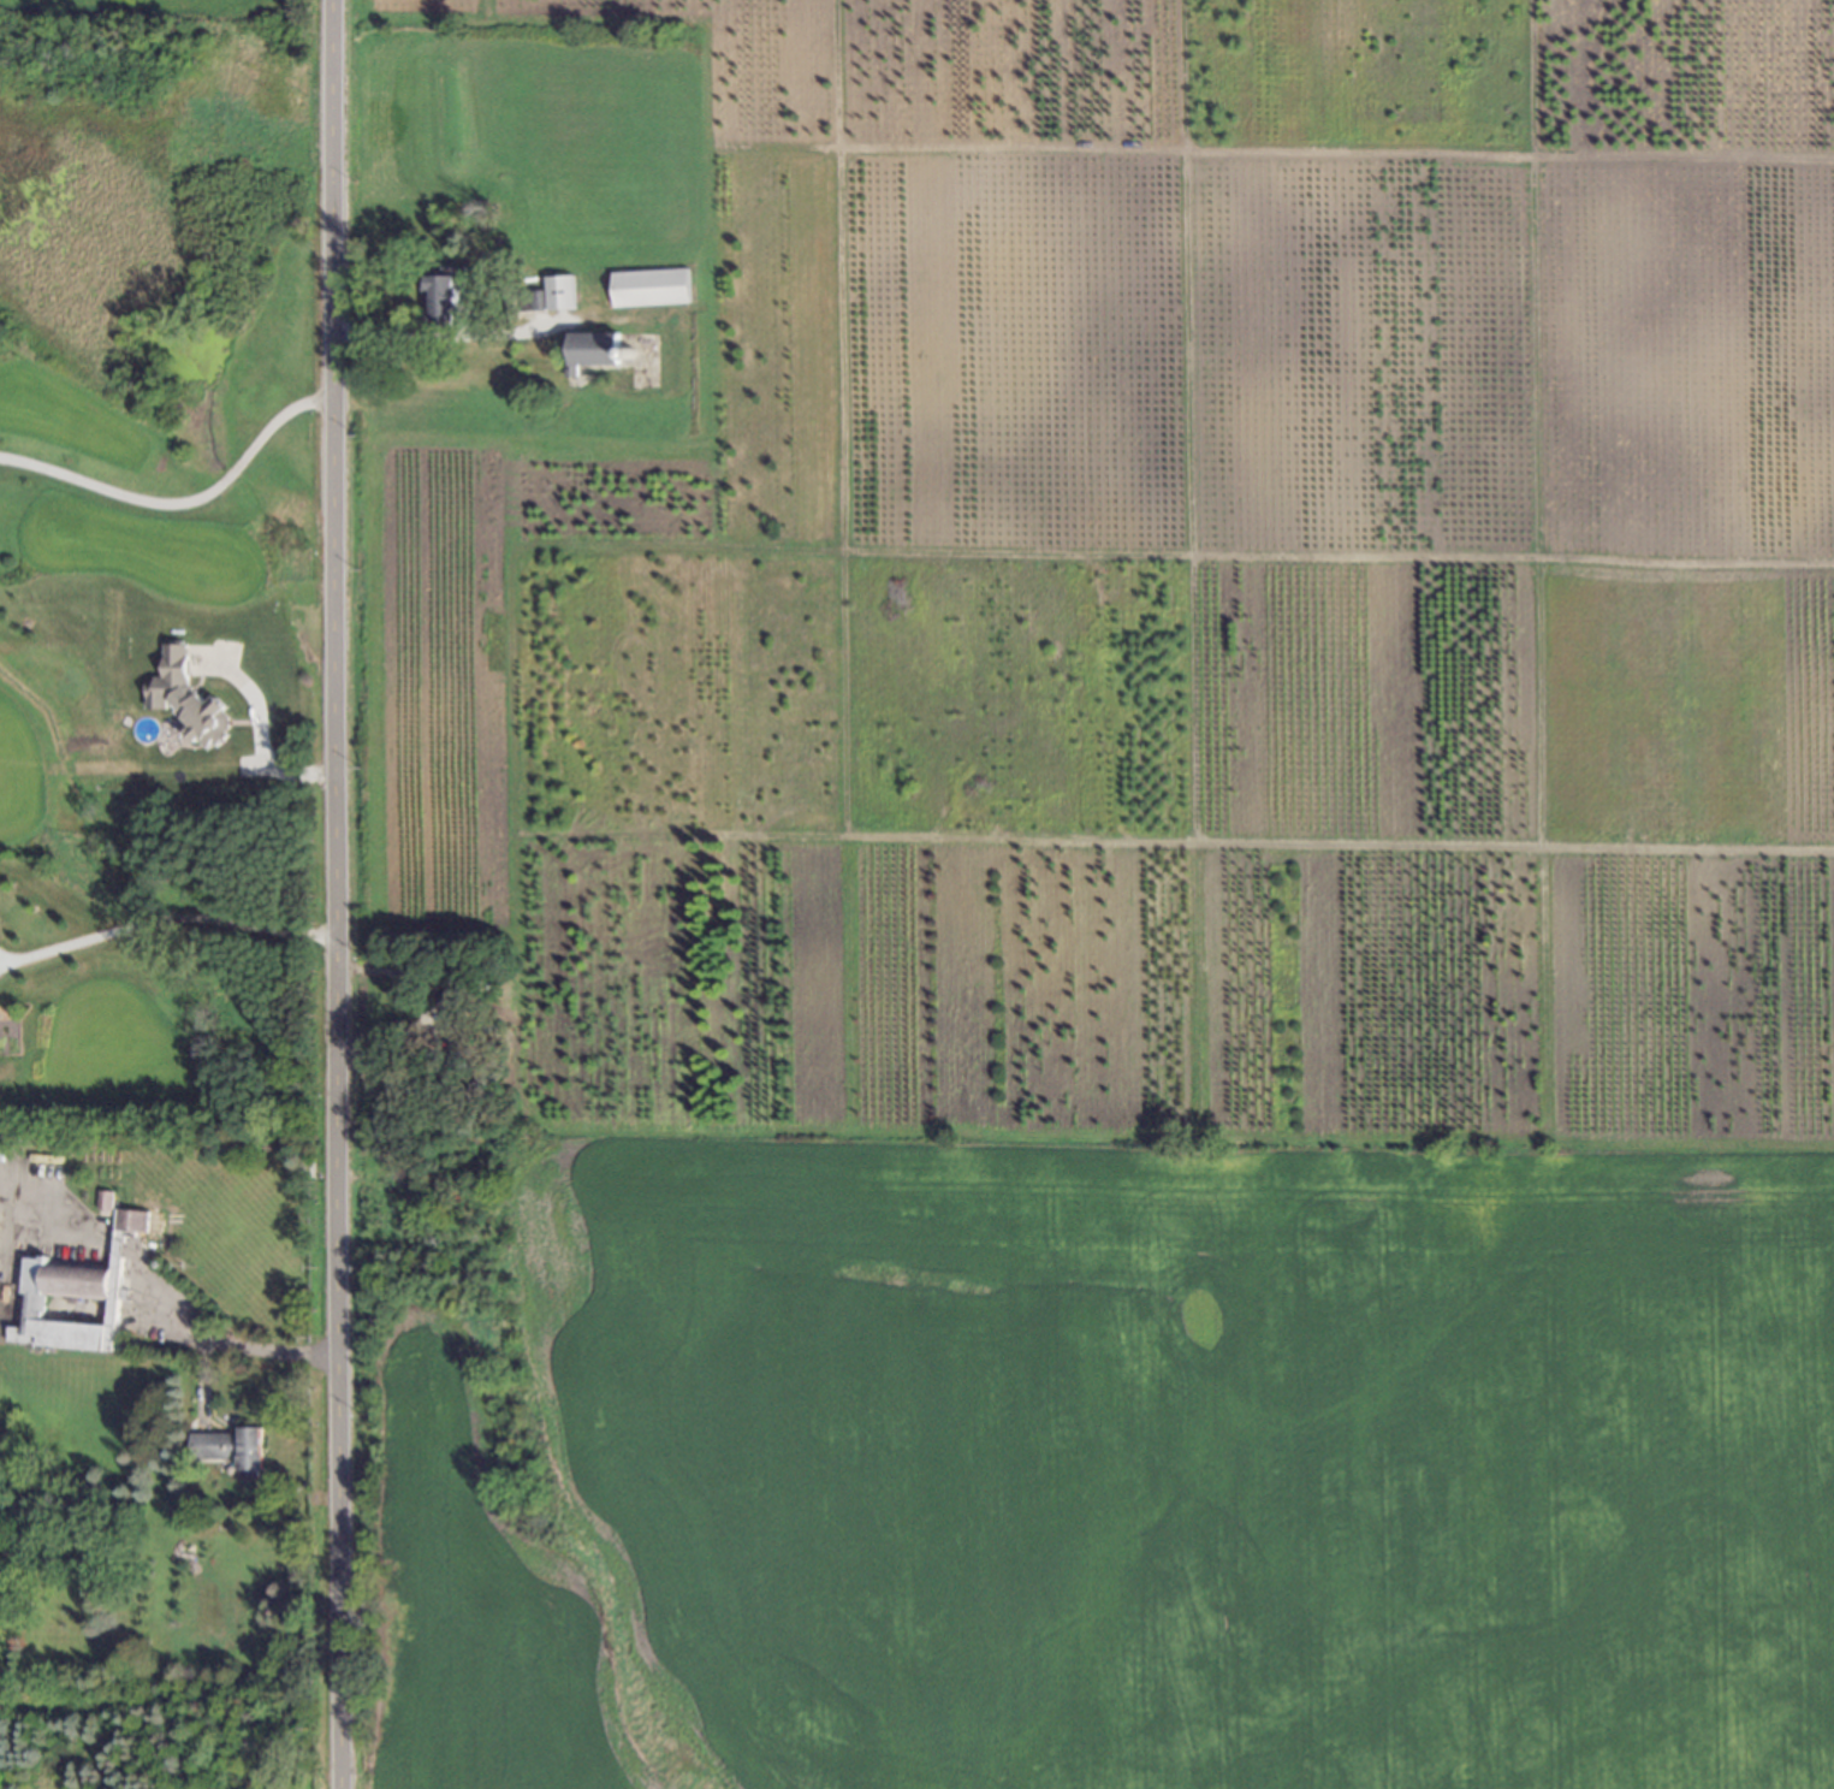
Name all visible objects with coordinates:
building: (648, 285)
building: (548, 292)
building: (440, 294)
road: (451, 336)
building: (588, 350)
building: (634, 359)
road: (183, 504)
building: (184, 694)
road: (334, 894)
road: (166, 924)
building: (458, 988)
building: (457, 1053)
building: (103, 1198)
road: (59, 1209)
road: (117, 1246)
building: (75, 1293)
road: (209, 1343)
road: (206, 1384)
building: (232, 1445)

